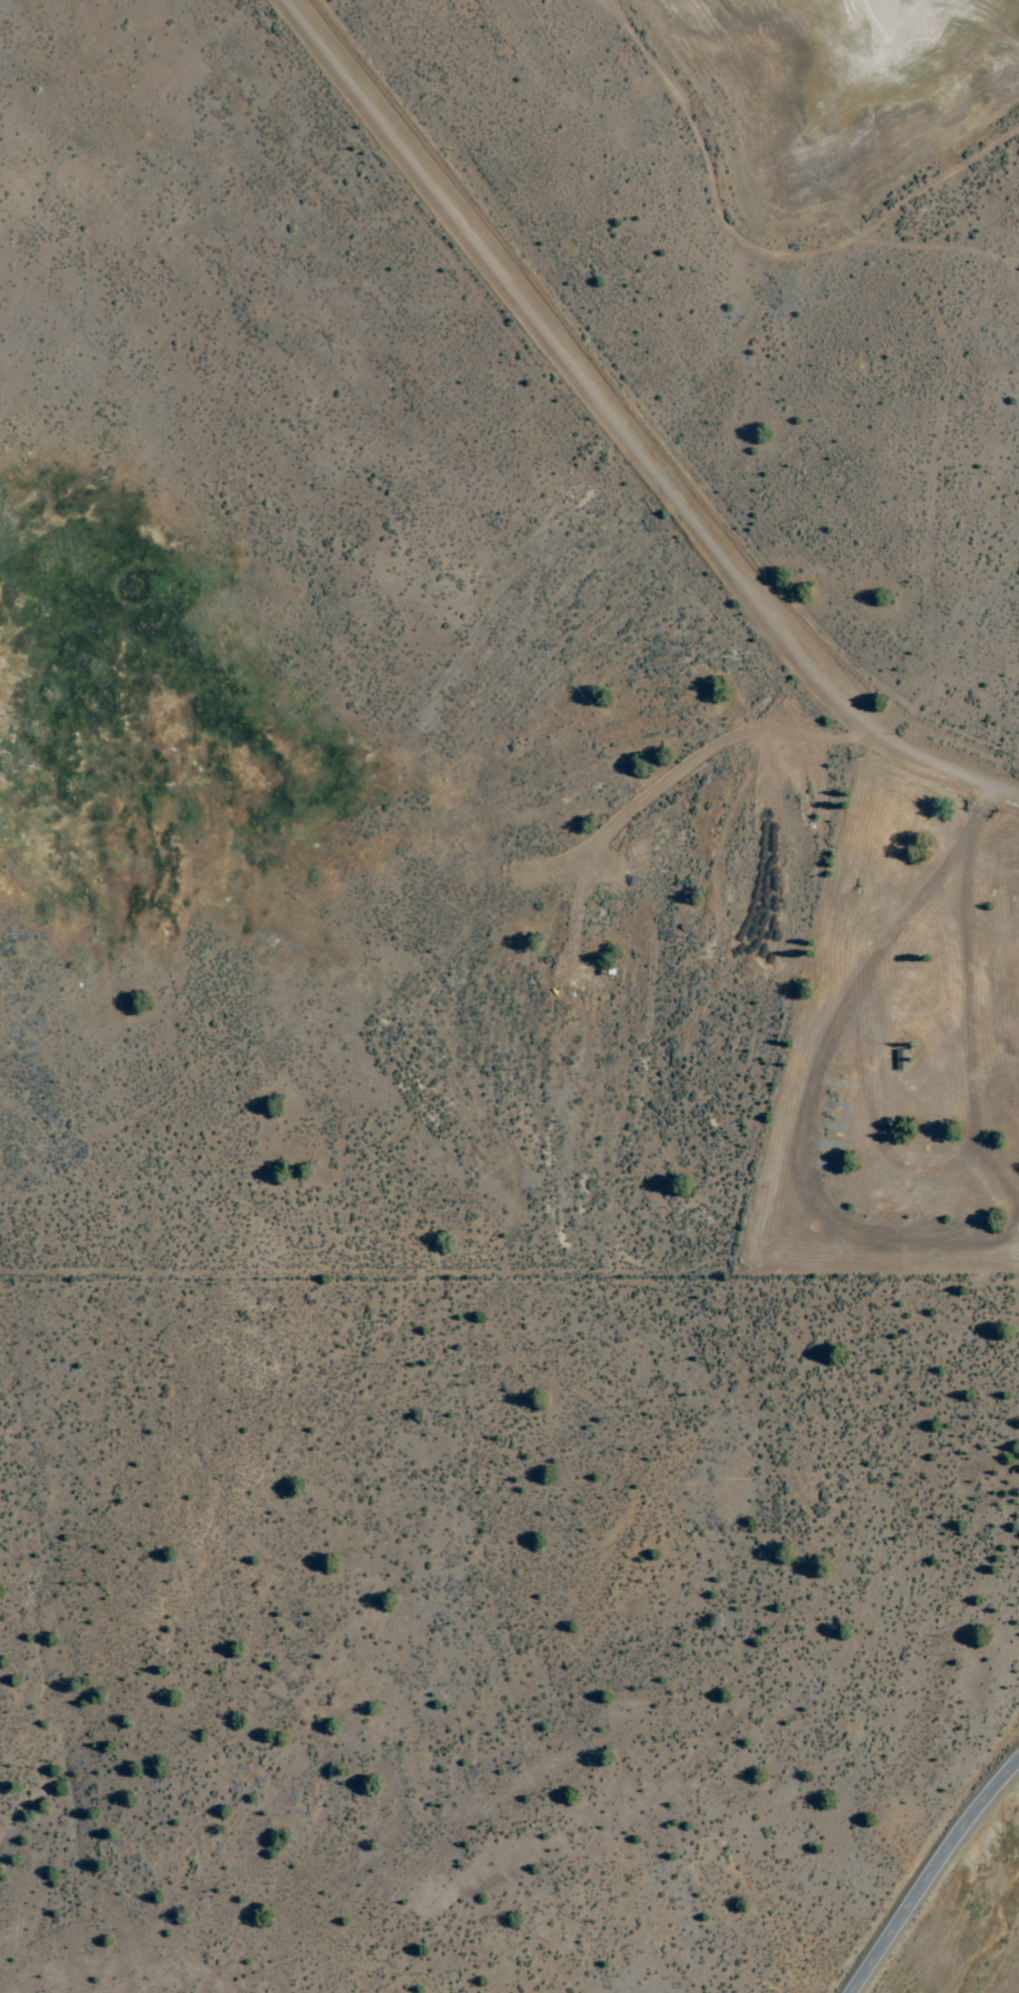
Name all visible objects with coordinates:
road: (623, 433)
road: (933, 1875)

